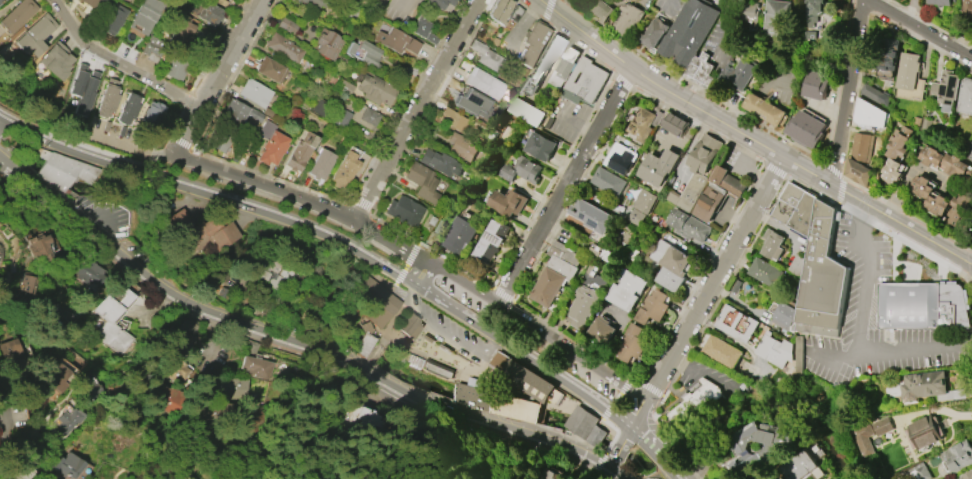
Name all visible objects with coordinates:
building: (0, 0)
building: (128, 0)
building: (135, 1)
building: (941, 2)
building: (437, 3)
building: (91, 4)
building: (310, 4)
road: (664, 4)
building: (967, 7)
building: (498, 10)
building: (600, 10)
road: (550, 11)
building: (814, 11)
building: (750, 13)
building: (16, 14)
building: (210, 14)
building: (145, 15)
building: (779, 18)
building: (112, 19)
building: (628, 19)
building: (285, 24)
road: (726, 27)
road: (925, 27)
building: (422, 29)
building: (689, 31)
building: (655, 33)
building: (33, 35)
building: (396, 41)
building: (532, 42)
building: (328, 44)
building: (283, 47)
building: (152, 49)
road: (229, 51)
building: (364, 53)
building: (486, 56)
building: (888, 58)
building: (55, 59)
road: (118, 60)
building: (542, 65)
building: (175, 67)
building: (564, 67)
building: (270, 69)
building: (701, 71)
building: (908, 71)
building: (737, 74)
road: (162, 77)
building: (586, 80)
road: (628, 81)
building: (483, 83)
building: (816, 85)
building: (345, 88)
building: (82, 89)
building: (374, 89)
building: (945, 89)
road: (849, 91)
building: (254, 92)
building: (872, 93)
building: (965, 96)
building: (107, 98)
road: (176, 103)
building: (475, 105)
building: (127, 108)
road: (415, 109)
building: (763, 109)
road: (853, 111)
building: (527, 112)
building: (151, 113)
building: (234, 113)
road: (25, 114)
building: (254, 115)
building: (870, 115)
building: (339, 116)
building: (364, 116)
building: (451, 119)
building: (644, 123)
building: (675, 124)
road: (578, 125)
road: (765, 125)
building: (805, 129)
road: (184, 132)
road: (753, 136)
building: (219, 140)
building: (271, 144)
building: (540, 146)
building: (461, 148)
building: (299, 152)
building: (896, 152)
building: (970, 154)
parking lot: (3, 159)
building: (620, 159)
building: (860, 159)
building: (946, 162)
building: (440, 163)
building: (320, 164)
building: (659, 167)
building: (63, 168)
building: (521, 169)
building: (344, 170)
building: (696, 171)
building: (421, 181)
building: (608, 181)
road: (296, 185)
road: (569, 187)
building: (717, 191)
building: (930, 195)
road: (361, 201)
building: (644, 201)
building: (508, 202)
building: (958, 210)
building: (404, 211)
parking lot: (108, 215)
building: (591, 216)
building: (635, 217)
building: (175, 221)
building: (687, 225)
building: (440, 227)
road: (756, 228)
building: (209, 235)
building: (971, 235)
building: (460, 236)
road: (861, 237)
road: (331, 238)
building: (490, 241)
building: (773, 244)
building: (39, 249)
building: (599, 252)
road: (731, 257)
road: (427, 261)
building: (819, 262)
building: (669, 264)
building: (270, 270)
building: (86, 271)
building: (766, 272)
building: (554, 274)
building: (591, 276)
road: (425, 277)
road: (969, 279)
road: (489, 281)
building: (28, 284)
building: (624, 289)
road: (509, 294)
building: (372, 300)
building: (581, 305)
building: (912, 306)
building: (652, 307)
building: (57, 317)
building: (109, 322)
building: (737, 323)
building: (409, 326)
road: (447, 330)
building: (600, 330)
road: (298, 337)
building: (176, 341)
building: (632, 343)
building: (362, 344)
building: (247, 345)
road: (288, 350)
building: (774, 350)
building: (721, 351)
road: (831, 354)
road: (872, 354)
building: (12, 357)
building: (799, 357)
building: (256, 367)
building: (177, 372)
road: (701, 373)
road: (648, 374)
building: (521, 375)
building: (57, 377)
road: (661, 379)
road: (214, 383)
building: (928, 386)
building: (91, 387)
building: (235, 387)
building: (496, 402)
building: (696, 405)
road: (639, 414)
building: (358, 420)
building: (68, 421)
building: (580, 421)
building: (884, 427)
building: (924, 433)
building: (595, 435)
building: (863, 439)
road: (620, 447)
building: (758, 447)
road: (652, 452)
road: (3, 456)
building: (956, 457)
building: (70, 467)
building: (799, 467)
building: (919, 472)
building: (758, 475)
building: (966, 475)
building: (828, 478)

